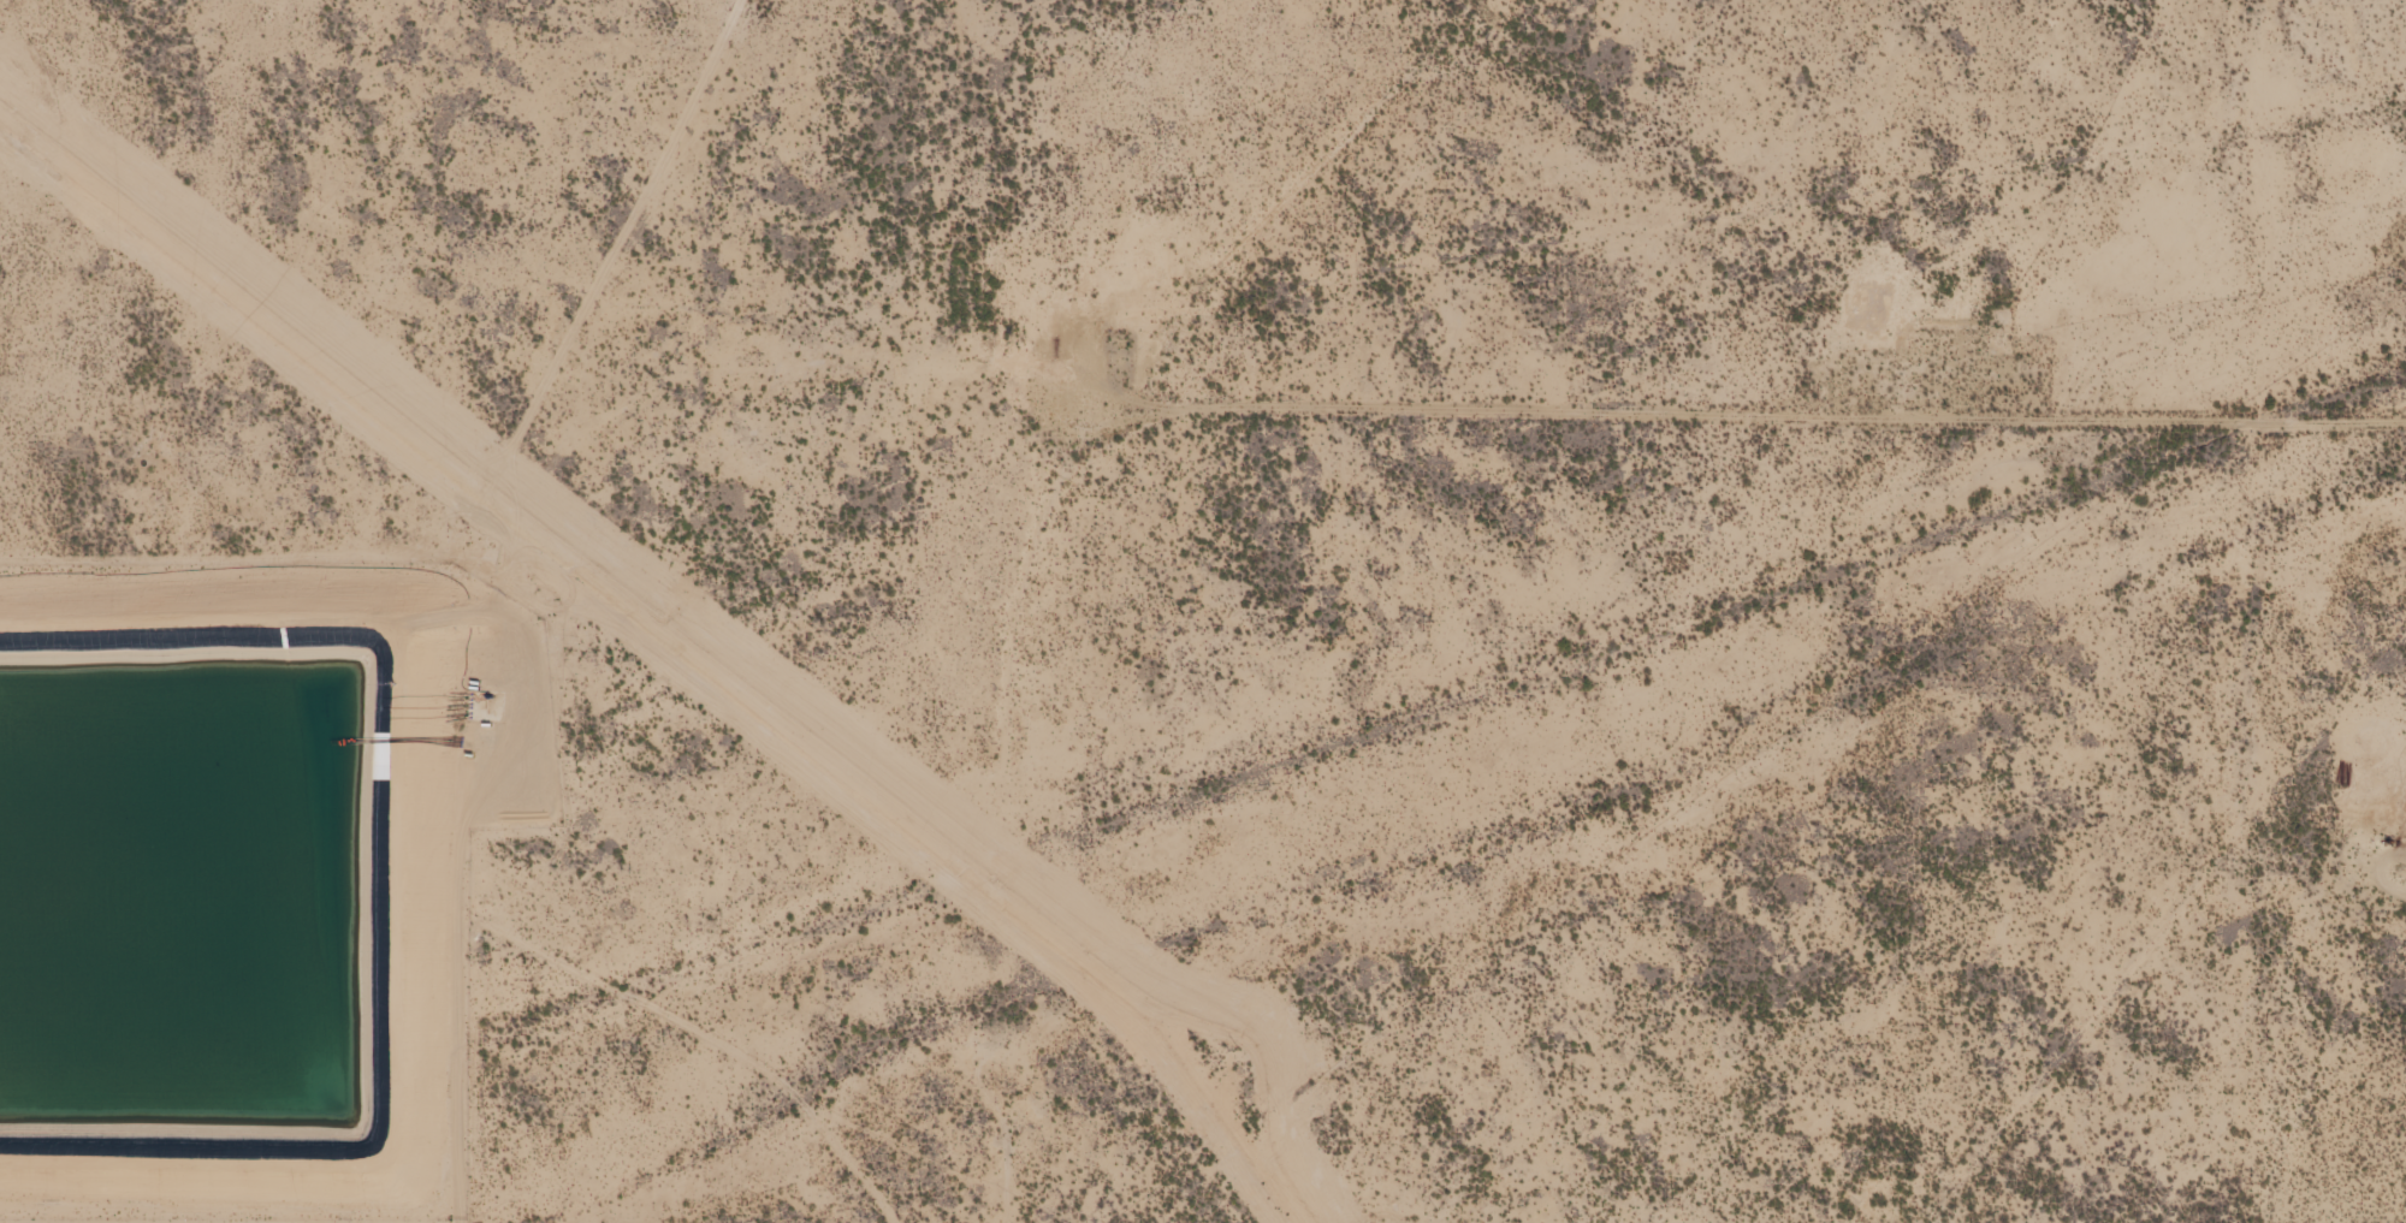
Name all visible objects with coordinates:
road: (1341, 135)
road: (1762, 416)
road: (2384, 875)

